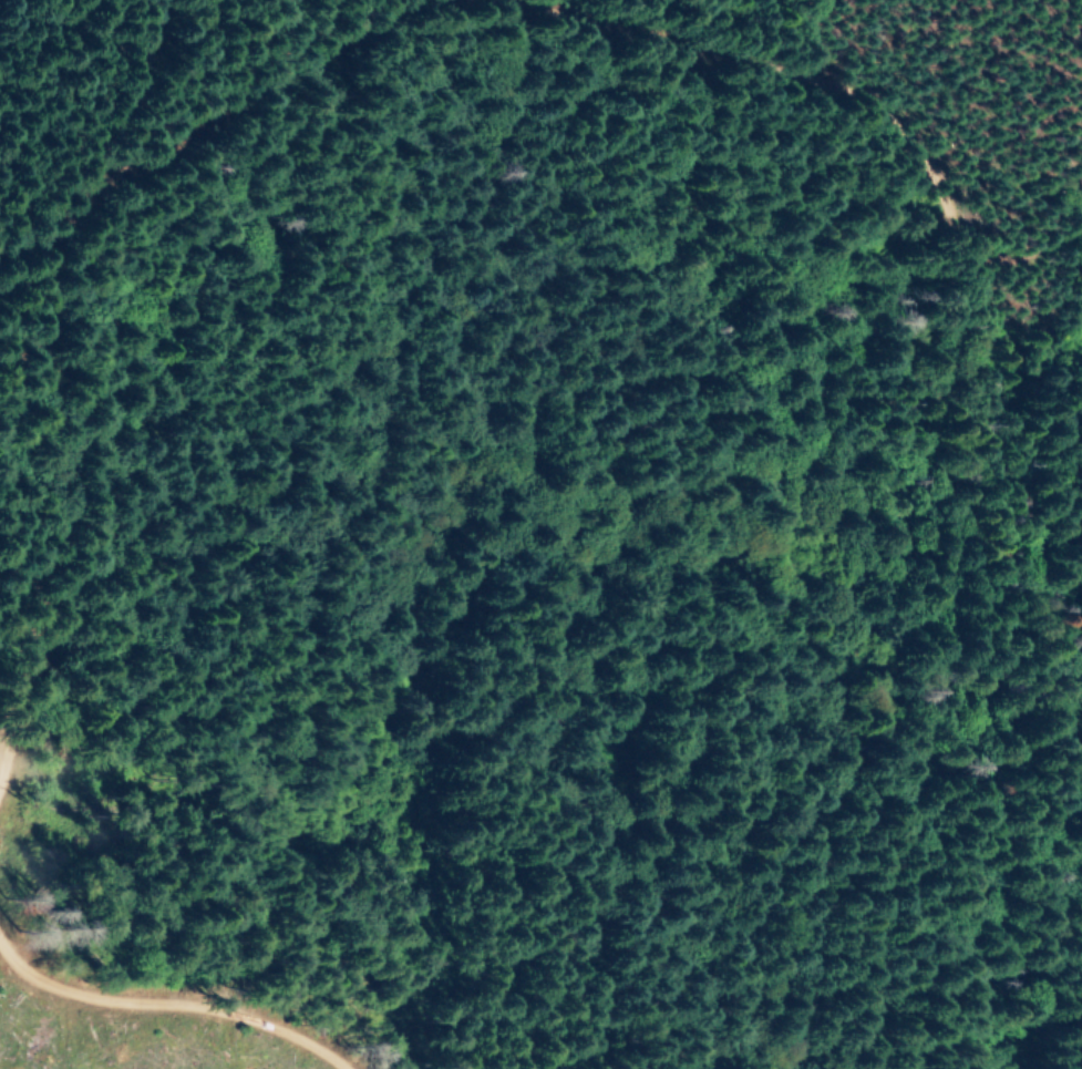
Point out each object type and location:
road: (148, 75)
road: (862, 78)
road: (76, 559)
road: (24, 721)

